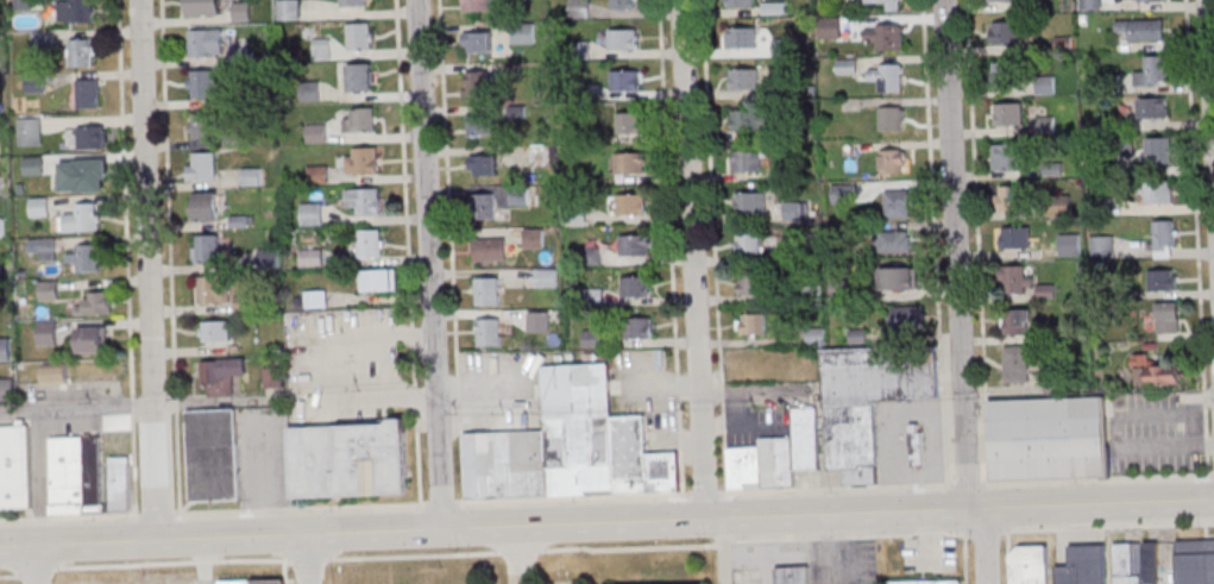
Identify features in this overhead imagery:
building: (1144, 0)
building: (1002, 1)
building: (354, 2)
building: (740, 2)
building: (624, 4)
building: (1090, 4)
building: (477, 5)
building: (888, 5)
building: (203, 8)
building: (579, 8)
building: (288, 10)
building: (75, 11)
building: (241, 12)
building: (1143, 30)
building: (1005, 32)
building: (523, 33)
building: (360, 36)
building: (743, 38)
building: (883, 38)
building: (623, 39)
building: (478, 42)
building: (206, 44)
building: (782, 48)
building: (82, 52)
road: (1210, 62)
building: (1152, 71)
building: (1000, 74)
building: (887, 76)
building: (360, 77)
building: (625, 80)
building: (744, 80)
building: (36, 83)
building: (476, 83)
building: (202, 84)
building: (1044, 84)
building: (88, 93)
building: (1152, 108)
building: (1007, 114)
building: (891, 118)
building: (360, 120)
building: (750, 120)
building: (629, 121)
building: (482, 125)
building: (203, 126)
building: (30, 131)
building: (316, 133)
building: (93, 137)
building: (1159, 151)
building: (1006, 156)
building: (361, 161)
building: (893, 161)
building: (747, 162)
building: (630, 163)
building: (32, 165)
building: (484, 165)
building: (202, 168)
building: (90, 175)
building: (0, 186)
building: (1158, 193)
building: (518, 195)
building: (1008, 197)
building: (364, 201)
building: (897, 203)
building: (630, 205)
building: (750, 205)
building: (39, 206)
building: (484, 206)
building: (203, 208)
building: (792, 212)
building: (312, 214)
building: (84, 218)
building: (1, 227)
building: (1014, 237)
building: (1164, 239)
building: (369, 243)
building: (894, 243)
building: (1102, 245)
building: (749, 246)
building: (634, 247)
building: (44, 249)
building: (206, 250)
building: (489, 251)
road: (957, 255)
building: (86, 257)
building: (310, 258)
road: (692, 260)
road: (430, 265)
road: (149, 270)
building: (1015, 278)
building: (379, 280)
building: (897, 280)
building: (1162, 280)
building: (751, 285)
building: (635, 288)
building: (49, 290)
building: (213, 290)
building: (486, 293)
building: (316, 299)
building: (95, 303)
building: (1166, 316)
building: (906, 319)
building: (1017, 321)
building: (751, 324)
building: (637, 328)
building: (215, 331)
building: (46, 333)
building: (489, 333)
building: (92, 339)
building: (5, 350)
building: (1017, 363)
road: (317, 369)
building: (1155, 371)
building: (55, 373)
building: (221, 376)
building: (272, 377)
building: (7, 389)
road: (753, 393)
building: (572, 394)
building: (864, 402)
road: (77, 407)
building: (118, 422)
road: (737, 426)
road: (1119, 427)
road: (1195, 427)
road: (892, 429)
building: (801, 440)
building: (1043, 440)
building: (917, 448)
building: (624, 456)
building: (209, 458)
building: (346, 461)
building: (773, 463)
building: (501, 467)
building: (15, 470)
building: (742, 470)
building: (659, 475)
building: (77, 476)
building: (125, 486)
road: (606, 495)
road: (606, 525)
road: (983, 547)
road: (606, 548)
road: (761, 551)
road: (723, 552)
road: (524, 555)
road: (1007, 557)
road: (309, 559)
road: (964, 559)
building: (1195, 561)
road: (39, 564)
building: (1087, 564)
building: (1124, 564)
building: (1150, 564)
building: (1029, 565)
building: (791, 574)
building: (1062, 574)
building: (254, 582)
building: (660, 582)
building: (926, 582)

